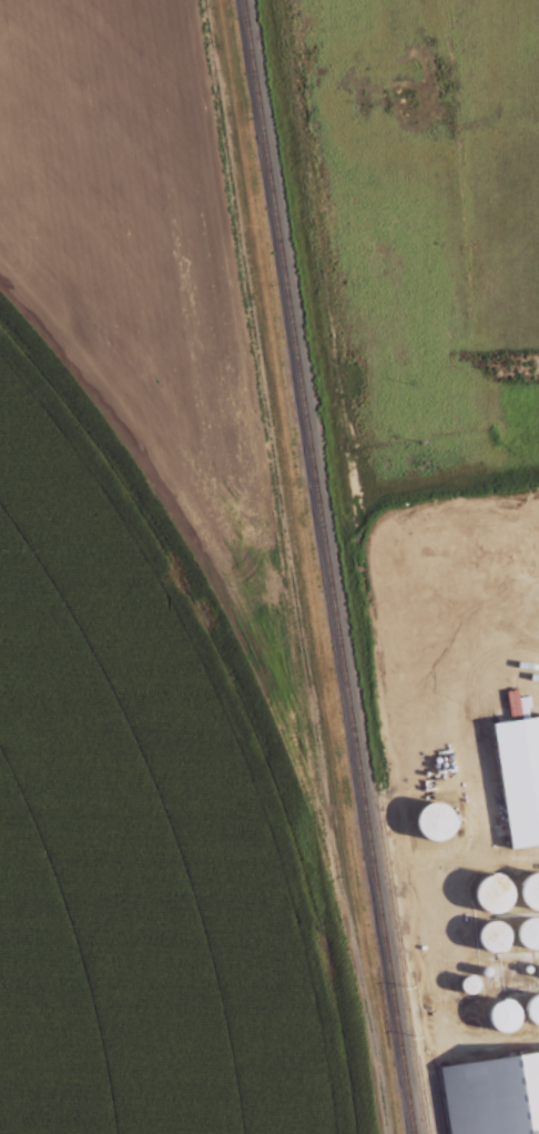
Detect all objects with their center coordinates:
railway: (327, 567)
building: (530, 889)
railway: (401, 969)
building: (492, 1094)
railway: (431, 1101)

